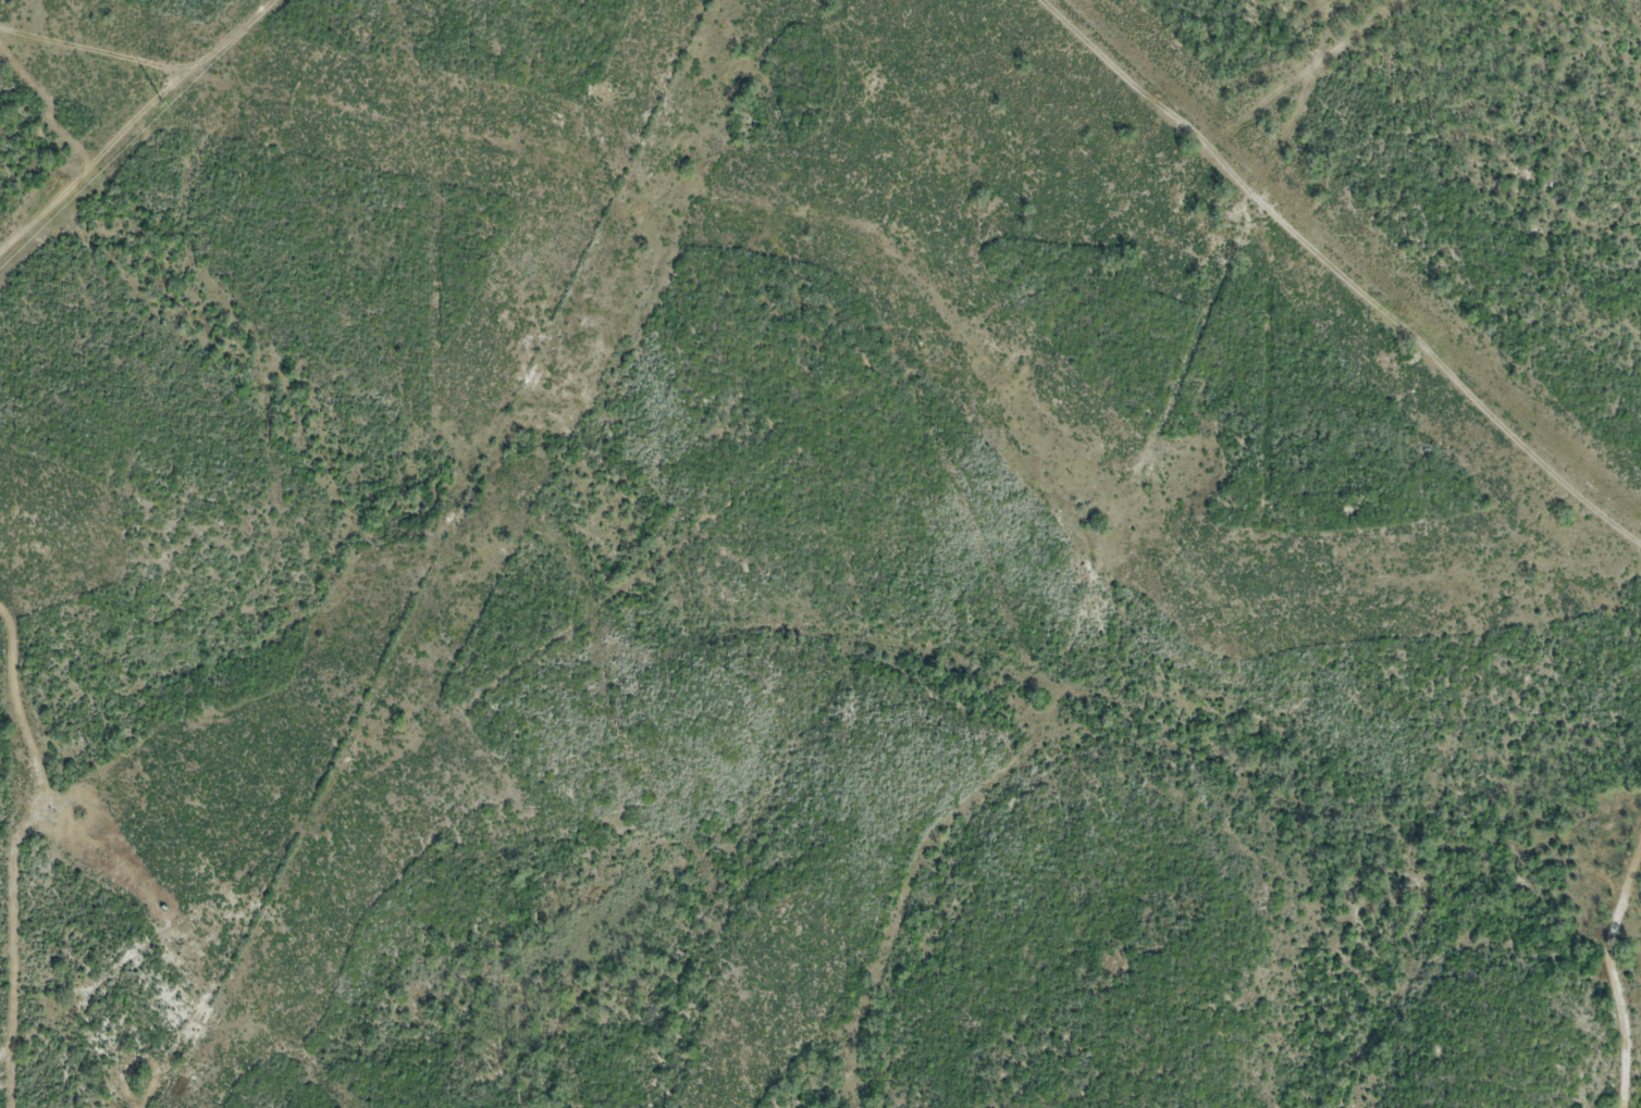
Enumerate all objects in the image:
power tower: (162, 102)

